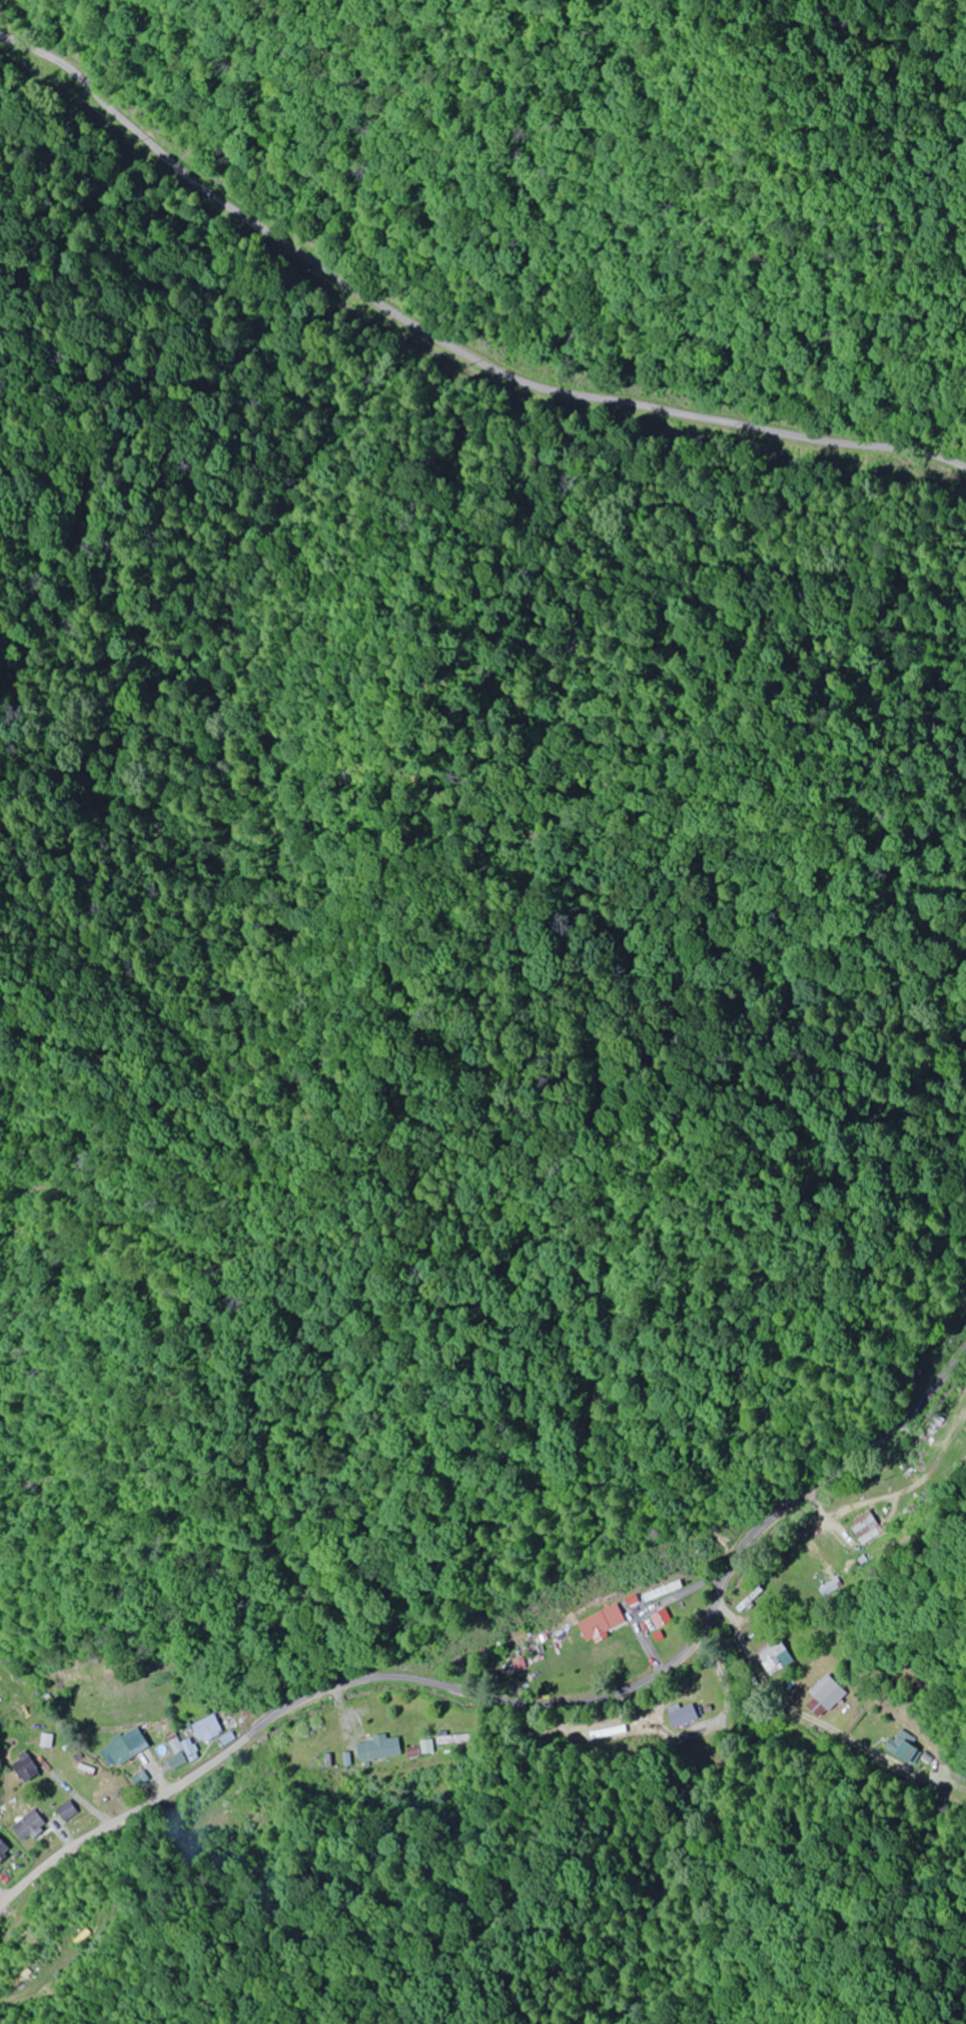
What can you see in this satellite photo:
road: (458, 390)
building: (872, 1531)
building: (660, 1592)
building: (659, 1618)
building: (598, 1623)
building: (776, 1658)
road: (547, 1671)
building: (823, 1696)
building: (684, 1715)
building: (204, 1729)
building: (903, 1747)
building: (379, 1748)
building: (178, 1750)
building: (112, 1753)
building: (22, 1766)
building: (259, 1809)
building: (17, 1814)
building: (2, 1848)
road: (65, 1994)

